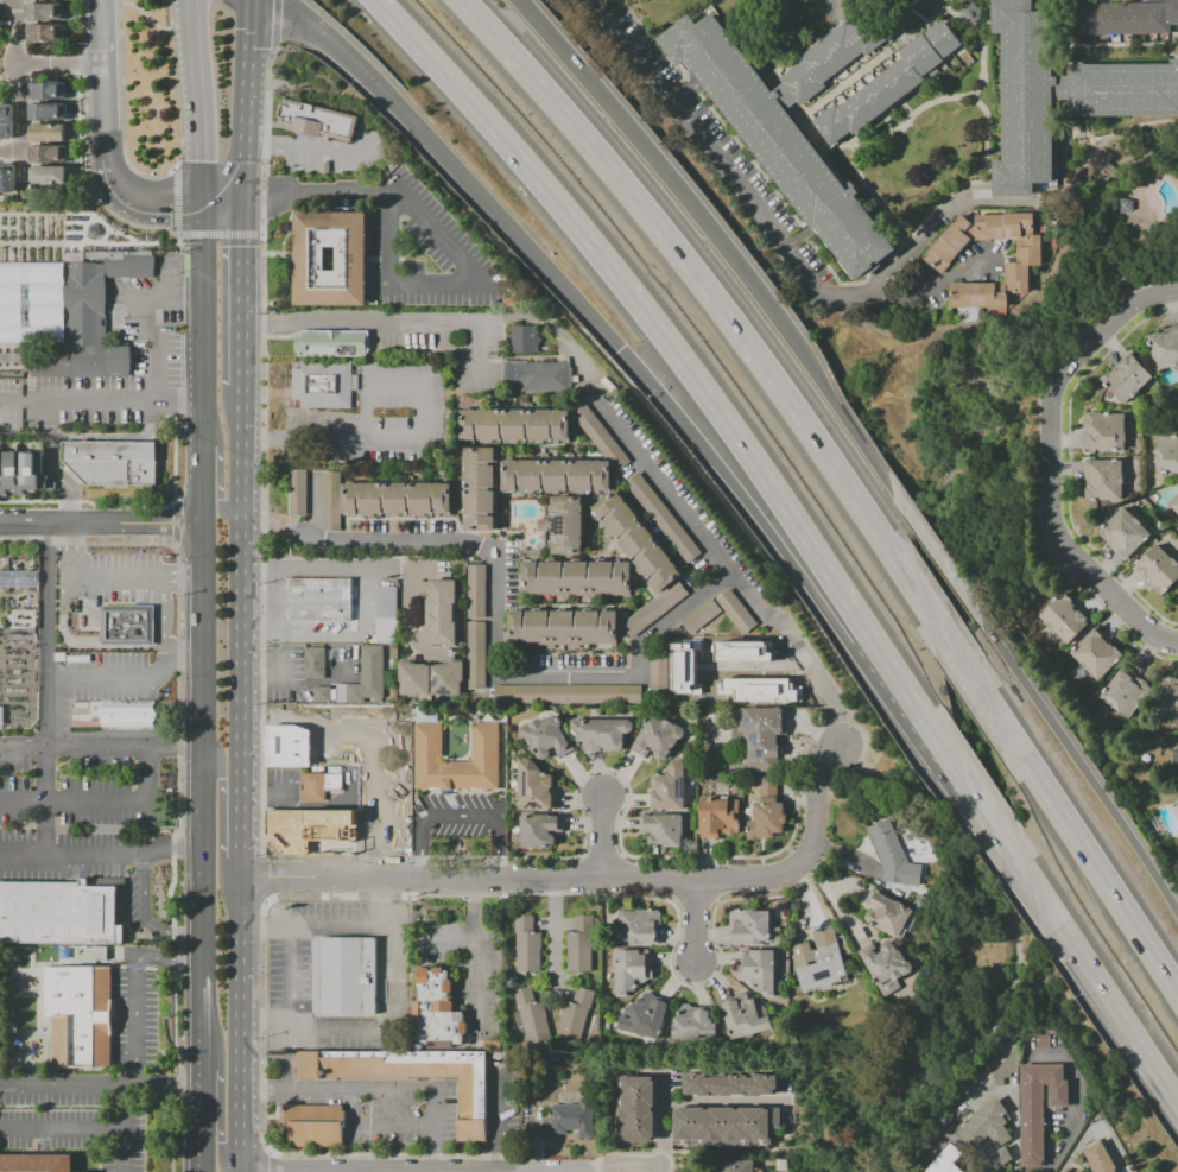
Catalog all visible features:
building: (42, 0)
building: (47, 13)
road: (144, 14)
building: (970, 14)
building: (1128, 18)
road: (273, 23)
road: (80, 26)
road: (15, 32)
building: (47, 34)
road: (275, 49)
building: (829, 58)
road: (56, 63)
road: (77, 63)
road: (100, 80)
road: (176, 84)
building: (889, 84)
building: (1123, 90)
building: (50, 91)
building: (1027, 97)
road: (197, 101)
road: (245, 102)
road: (120, 108)
building: (51, 114)
road: (20, 119)
building: (316, 120)
building: (7, 123)
building: (53, 134)
building: (779, 141)
road: (304, 148)
parking lot: (332, 152)
building: (52, 156)
road: (664, 166)
road: (454, 169)
building: (52, 177)
building: (11, 179)
road: (87, 180)
road: (141, 201)
road: (175, 201)
traffic signals: (201, 204)
road: (221, 204)
traffic signals: (242, 205)
road: (758, 214)
road: (218, 234)
road: (924, 239)
parking lot: (444, 242)
building: (350, 259)
building: (939, 260)
building: (129, 265)
road: (394, 286)
road: (707, 291)
road: (241, 297)
building: (509, 302)
road: (648, 317)
building: (62, 319)
road: (388, 322)
building: (525, 340)
building: (332, 343)
traffic signals: (616, 349)
building: (1164, 349)
building: (538, 375)
building: (1127, 379)
building: (607, 384)
building: (322, 385)
flagpole: (286, 388)
building: (583, 388)
road: (99, 400)
parking lot: (378, 419)
building: (513, 425)
road: (848, 426)
building: (1104, 431)
building: (601, 436)
road: (410, 439)
road: (265, 446)
building: (1166, 454)
road: (1050, 463)
road: (1068, 463)
road: (52, 464)
building: (115, 464)
road: (218, 464)
building: (23, 473)
building: (556, 475)
building: (1103, 479)
building: (479, 490)
building: (297, 493)
building: (395, 499)
building: (331, 501)
building: (1174, 505)
road: (750, 509)
road: (176, 511)
building: (663, 517)
road: (77, 524)
building: (566, 525)
road: (177, 533)
building: (1125, 534)
building: (635, 540)
road: (933, 553)
road: (254, 569)
road: (348, 570)
road: (387, 570)
building: (1158, 570)
building: (576, 577)
road: (88, 578)
building: (20, 581)
road: (178, 582)
building: (476, 591)
building: (1030, 595)
building: (318, 600)
road: (270, 602)
building: (653, 609)
building: (736, 612)
road: (159, 613)
building: (442, 613)
building: (386, 615)
building: (701, 616)
building: (1064, 617)
road: (1111, 620)
road: (411, 623)
building: (123, 625)
building: (563, 627)
road: (255, 634)
road: (316, 634)
road: (179, 644)
road: (78, 645)
building: (741, 651)
road: (798, 651)
building: (1096, 654)
building: (476, 655)
road: (956, 655)
building: (315, 663)
building: (682, 667)
road: (760, 669)
building: (659, 670)
road: (556, 676)
road: (127, 677)
building: (365, 678)
building: (413, 679)
building: (448, 679)
rooftop solar panel: (435, 682)
road: (293, 684)
road: (199, 688)
building: (759, 689)
road: (45, 690)
rooftop solar panel: (442, 691)
building: (1126, 692)
building: (568, 693)
building: (322, 695)
building: (1168, 698)
road: (836, 714)
building: (115, 715)
building: (2, 717)
road: (924, 721)
building: (601, 733)
road: (266, 737)
building: (546, 737)
building: (657, 737)
building: (759, 737)
building: (486, 742)
road: (75, 745)
road: (175, 746)
road: (861, 756)
road: (1073, 756)
building: (1174, 760)
road: (175, 773)
road: (239, 780)
building: (318, 785)
rooftop solar panel: (524, 785)
building: (534, 787)
building: (669, 787)
rooftop solar panel: (680, 787)
road: (103, 803)
road: (296, 804)
building: (1176, 804)
rooftop solar panel: (533, 805)
road: (222, 809)
building: (766, 812)
building: (717, 816)
road: (461, 817)
road: (993, 826)
building: (539, 829)
building: (664, 830)
road: (602, 837)
road: (1083, 849)
road: (334, 851)
road: (100, 855)
building: (893, 855)
road: (493, 857)
road: (666, 857)
road: (579, 874)
road: (587, 879)
road: (716, 879)
road: (673, 880)
road: (426, 895)
road: (379, 902)
building: (925, 905)
building: (887, 913)
building: (61, 914)
road: (141, 918)
road: (696, 920)
building: (639, 926)
building: (753, 926)
road: (264, 927)
road: (391, 927)
road: (555, 933)
building: (527, 944)
building: (579, 944)
road: (449, 945)
road: (475, 951)
road: (669, 961)
building: (819, 961)
building: (885, 963)
building: (631, 970)
building: (758, 970)
rooftop solar panel: (821, 975)
building: (344, 976)
road: (135, 992)
road: (1102, 993)
building: (436, 1012)
building: (575, 1015)
building: (645, 1015)
building: (82, 1016)
road: (264, 1016)
building: (531, 1016)
building: (746, 1016)
building: (695, 1022)
building: (604, 1027)
building: (1043, 1041)
building: (492, 1045)
road: (285, 1054)
building: (553, 1056)
building: (1007, 1066)
building: (410, 1076)
building: (729, 1084)
road: (100, 1085)
road: (290, 1089)
road: (387, 1089)
road: (261, 1095)
road: (221, 1096)
road: (723, 1102)
building: (806, 1103)
road: (121, 1107)
building: (635, 1108)
building: (1038, 1108)
parking lot: (398, 1113)
building: (571, 1119)
building: (726, 1125)
building: (315, 1126)
road: (1014, 1126)
road: (1070, 1128)
road: (82, 1129)
road: (432, 1130)
building: (822, 1134)
building: (987, 1135)
road: (661, 1158)
building: (1100, 1158)
building: (945, 1160)
road: (273, 1163)
building: (38, 1164)
building: (783, 1165)
building: (740, 1166)
building: (1077, 1171)
building: (1081, 1171)

